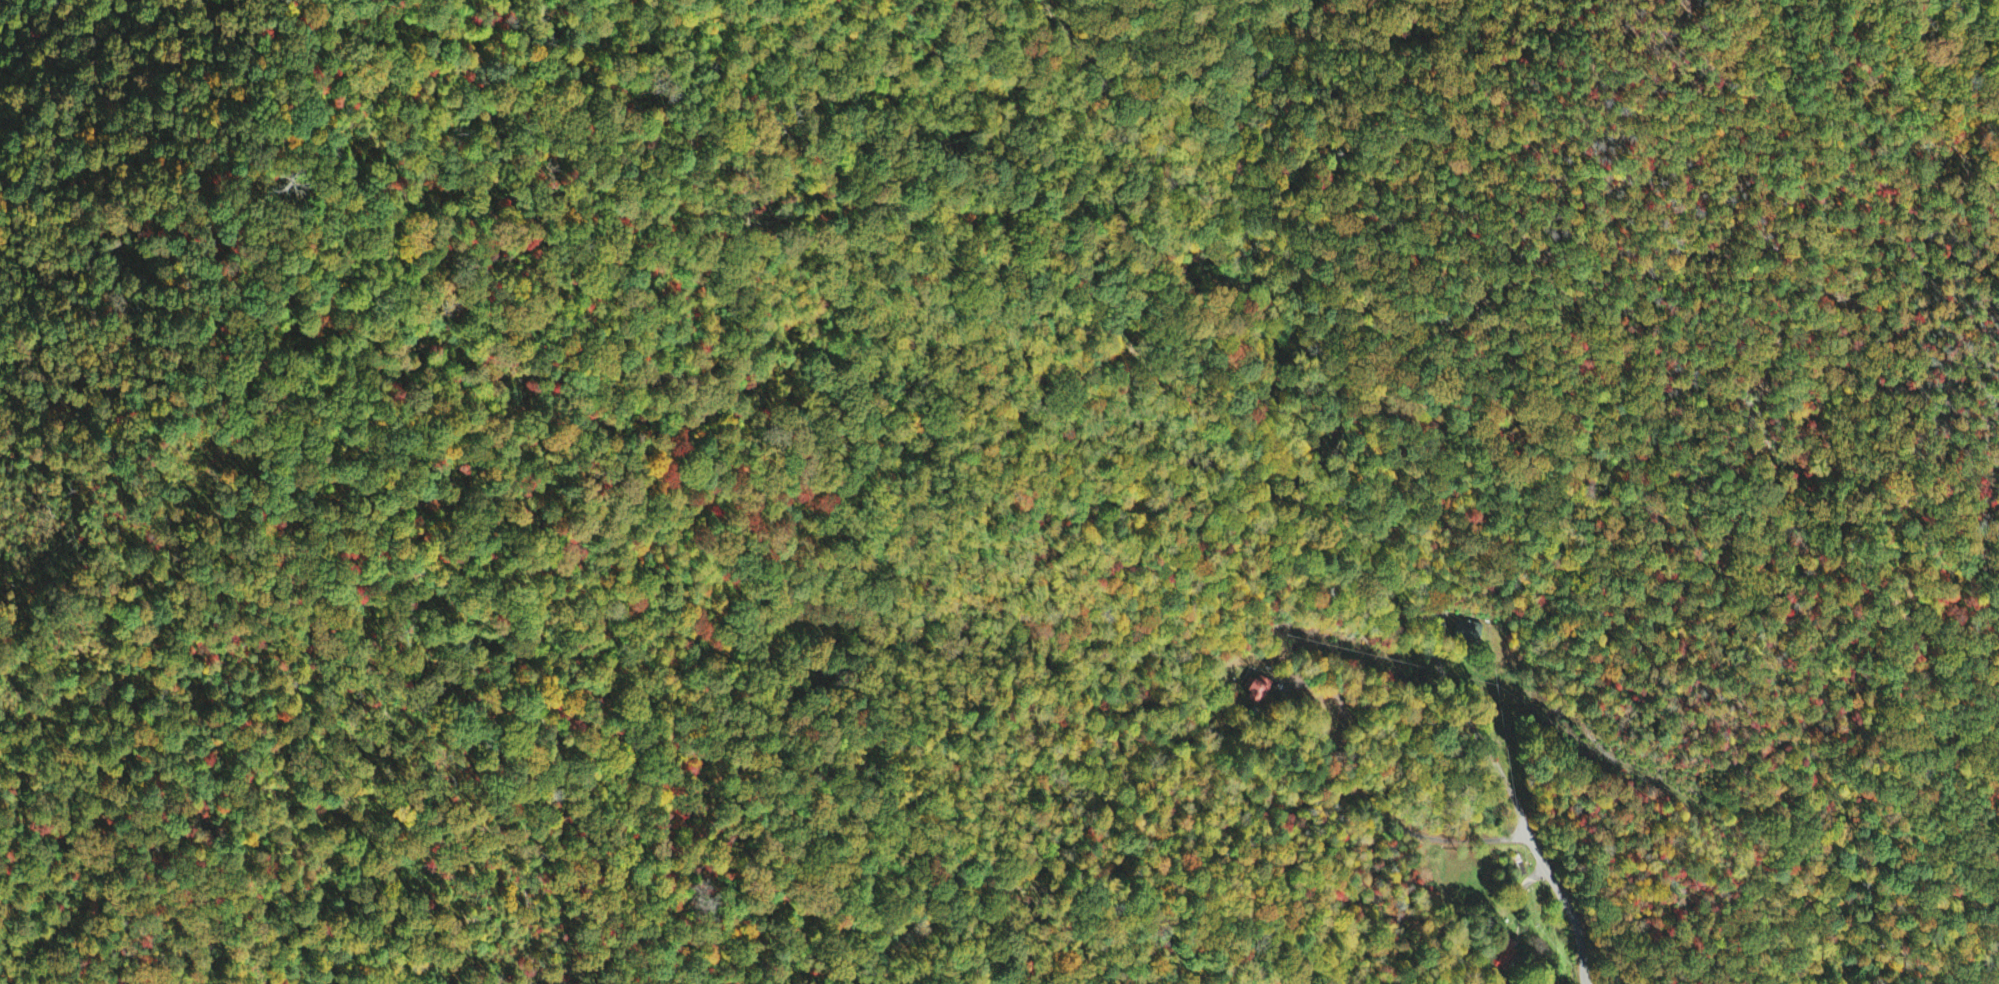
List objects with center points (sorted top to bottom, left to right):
road: (1992, 23)
road: (1807, 120)
building: (1469, 632)
building: (1257, 692)
road: (1559, 886)
building: (1510, 949)

